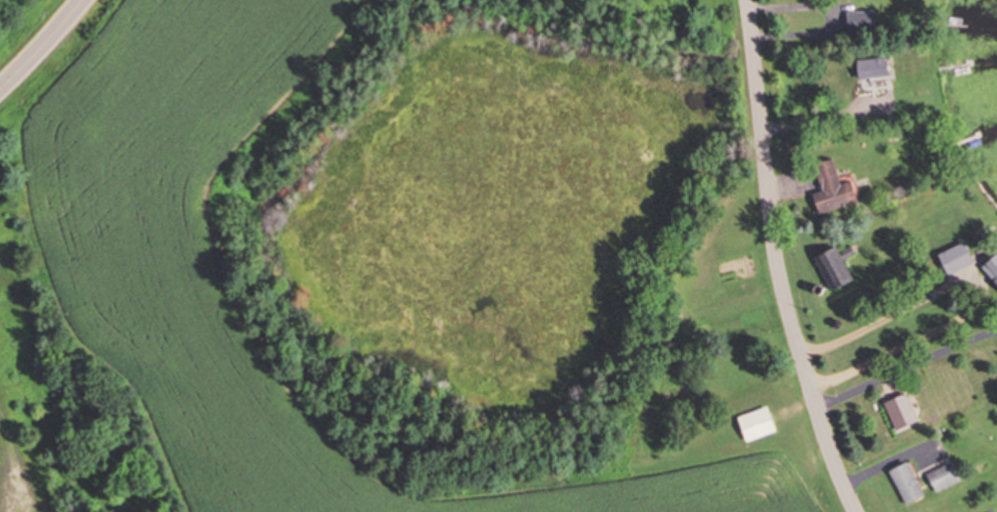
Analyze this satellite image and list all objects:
building: (858, 20)
road: (43, 46)
building: (869, 68)
building: (829, 189)
building: (953, 258)
road: (776, 261)
building: (830, 268)
building: (990, 269)
building: (754, 424)
building: (942, 476)
building: (904, 483)

